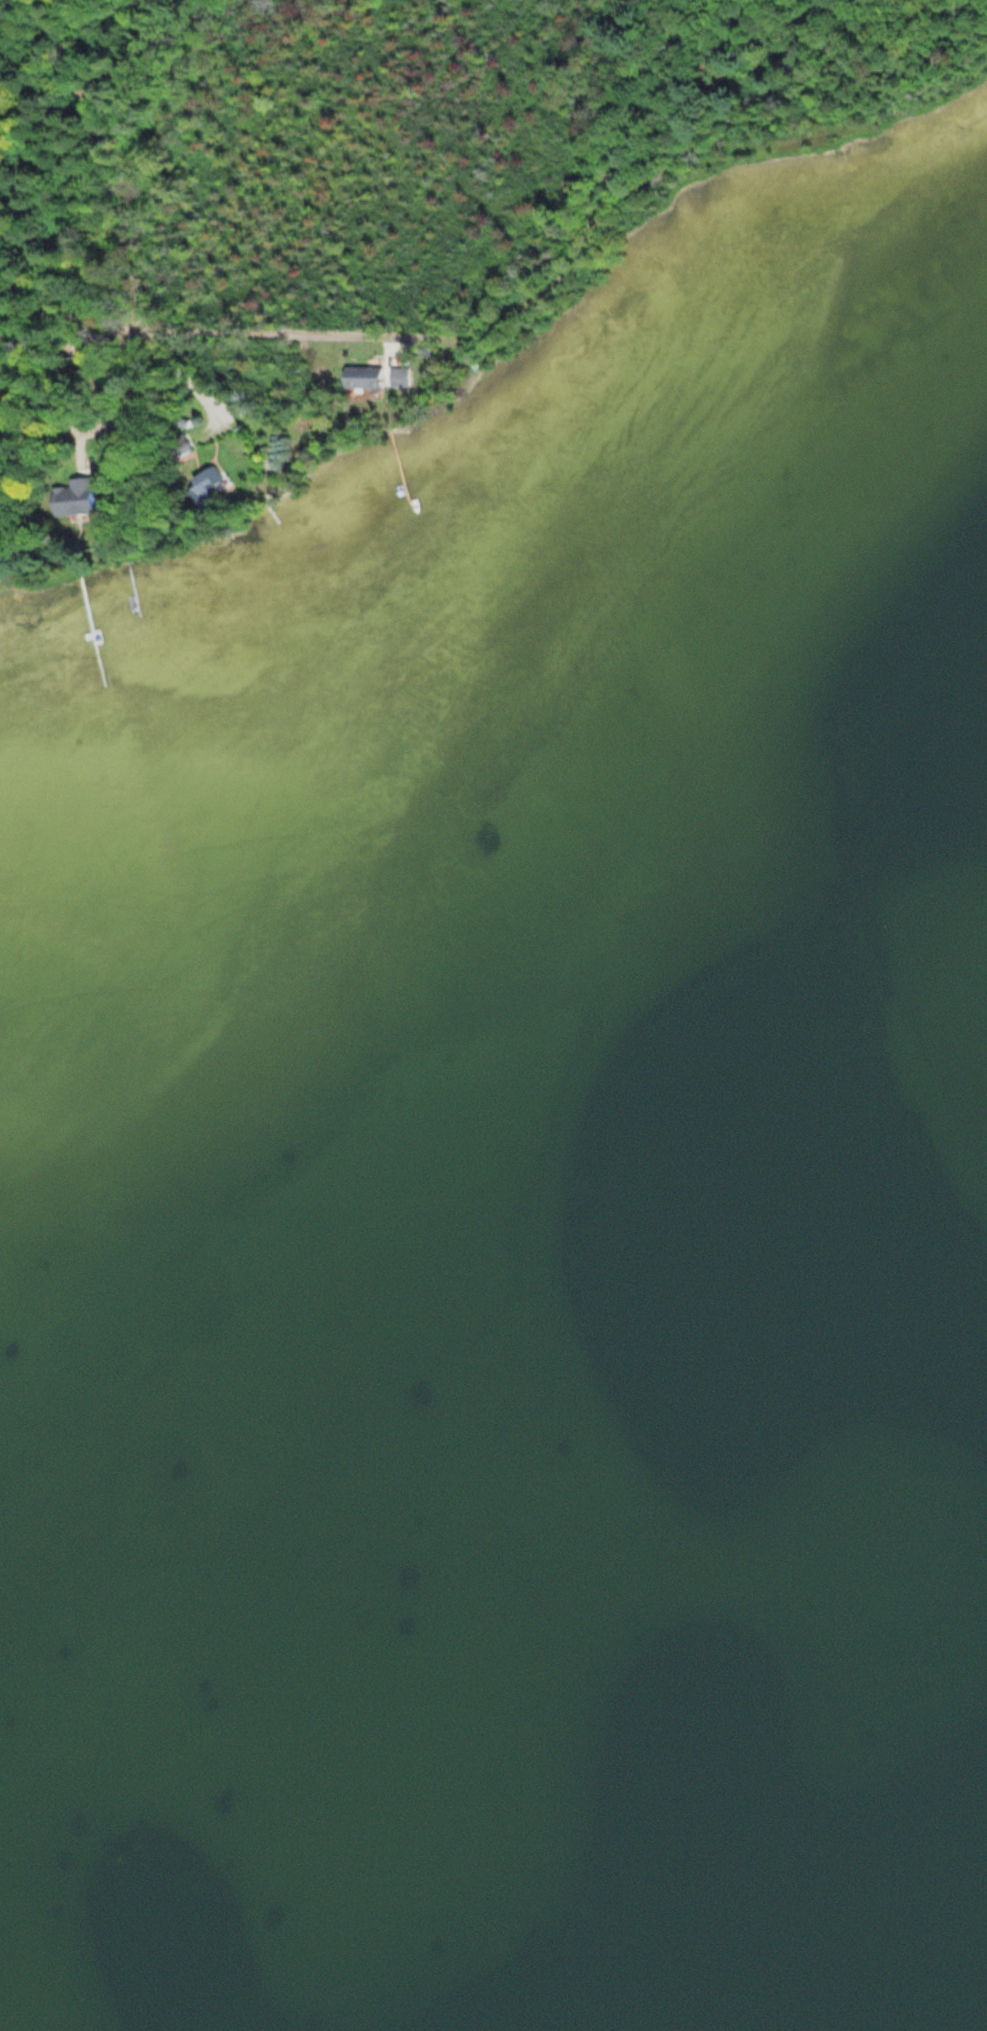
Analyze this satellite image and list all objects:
road: (214, 332)
building: (397, 376)
building: (362, 377)
road: (72, 409)
building: (204, 484)
building: (72, 498)

